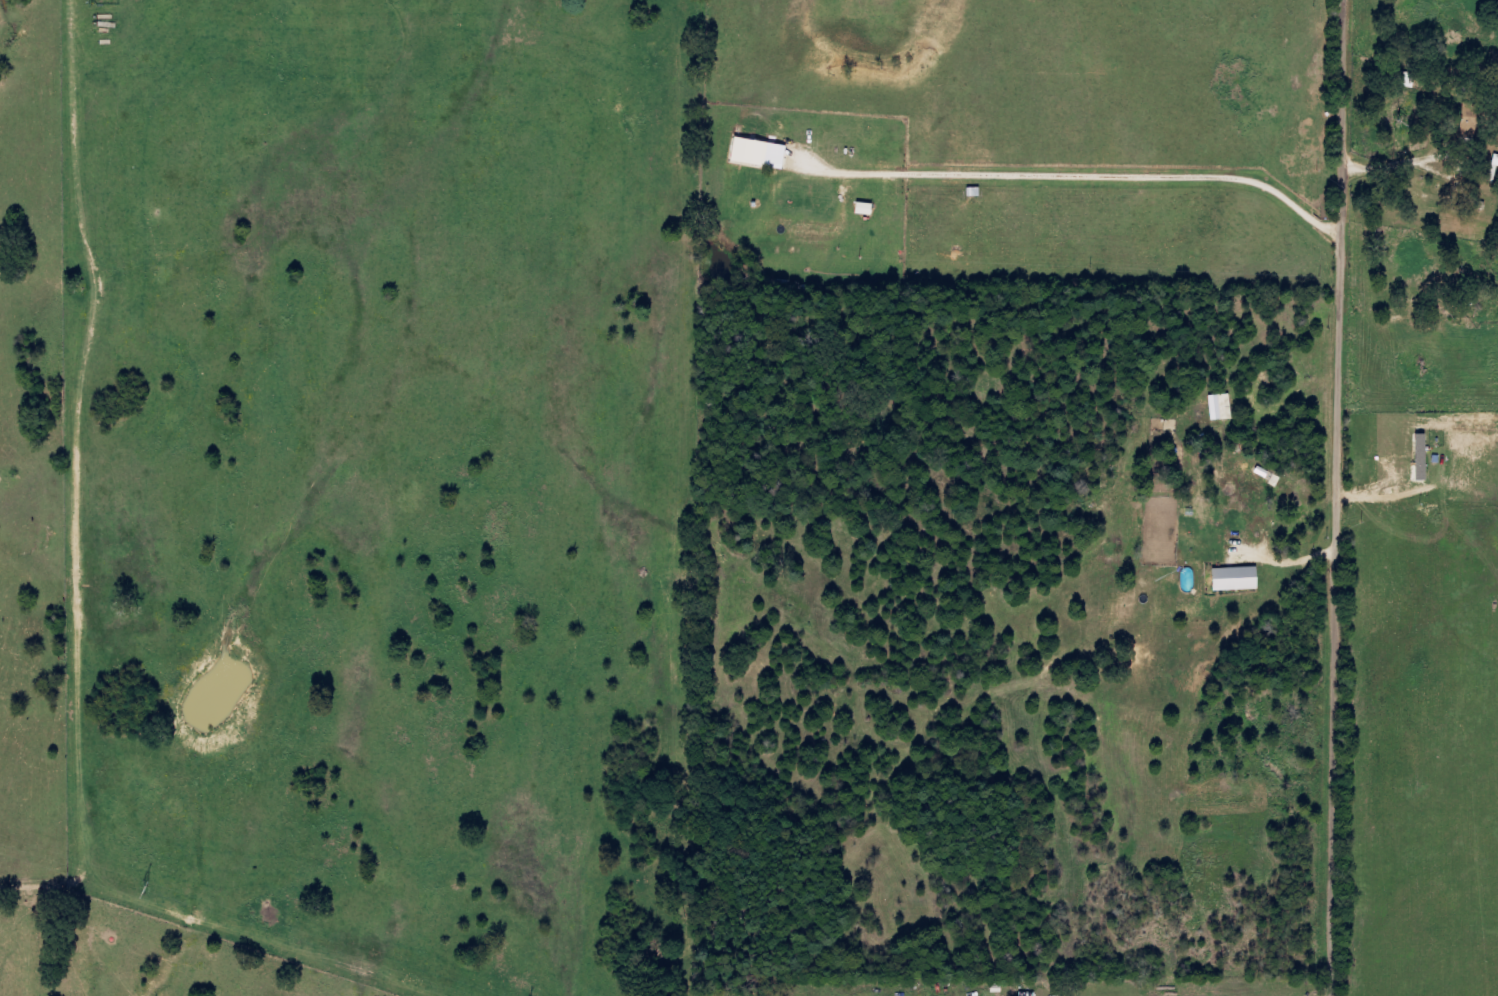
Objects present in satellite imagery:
building: (1412, 80)
building: (1476, 121)
building: (765, 154)
building: (1497, 166)
road: (1323, 498)
building: (1243, 580)
power tower: (145, 892)

